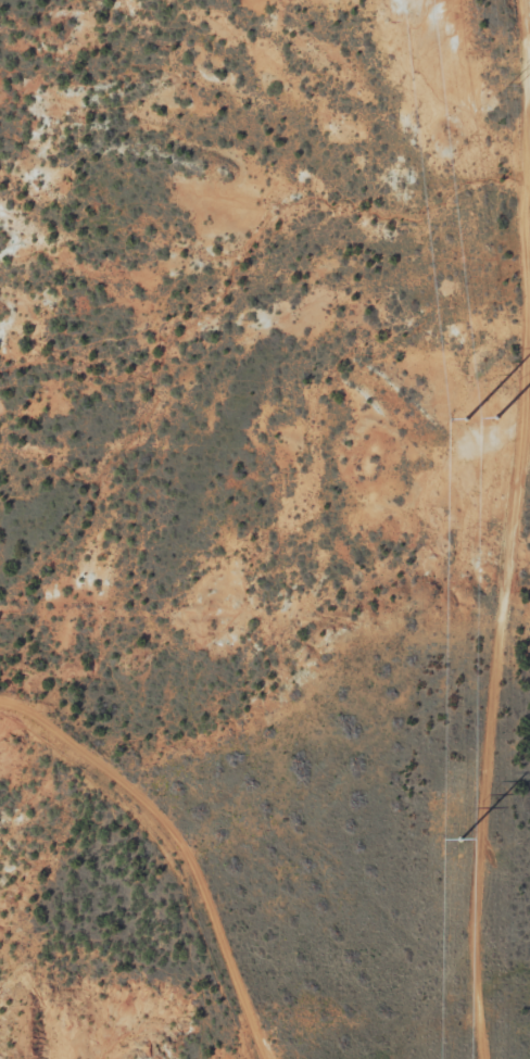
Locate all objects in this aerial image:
power tower: (514, 84)
power tower: (479, 417)
power tower: (462, 840)
road: (166, 870)

